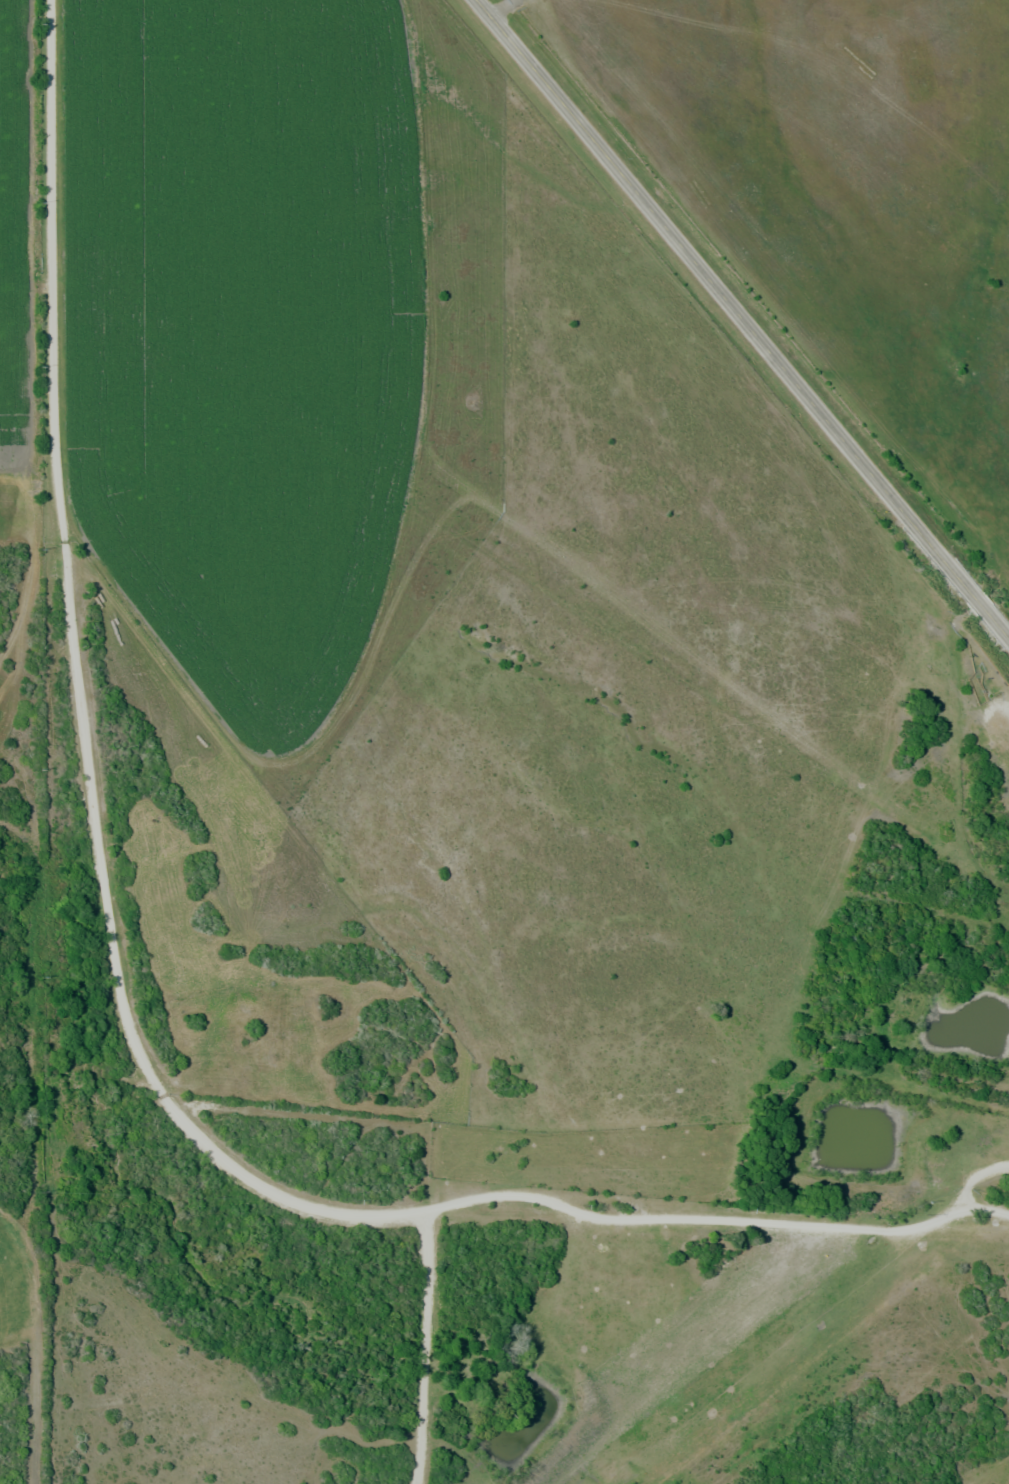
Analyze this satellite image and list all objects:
road: (742, 318)
road: (981, 662)
road: (86, 702)
road: (977, 1173)
road: (713, 1224)
road: (425, 1349)

